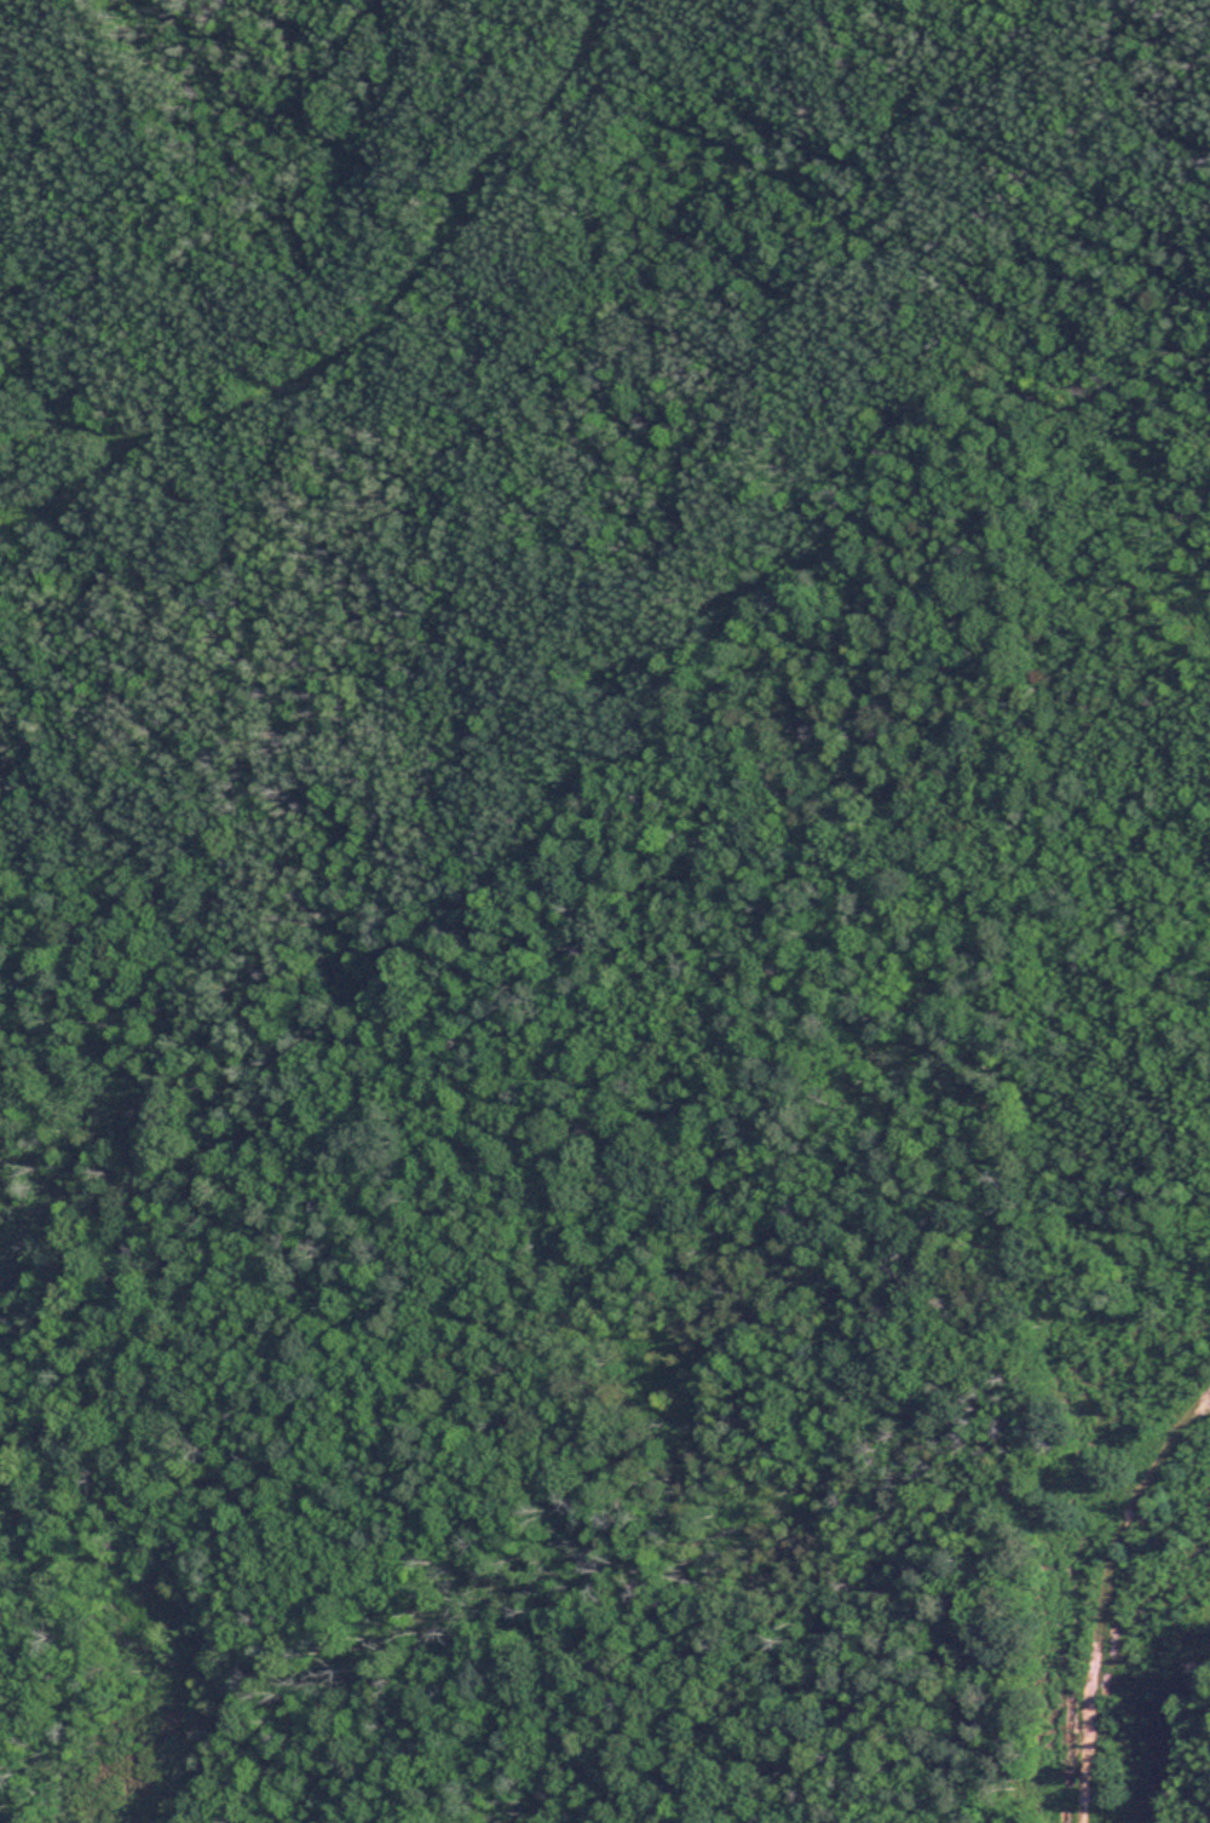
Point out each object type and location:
road: (1112, 1599)

